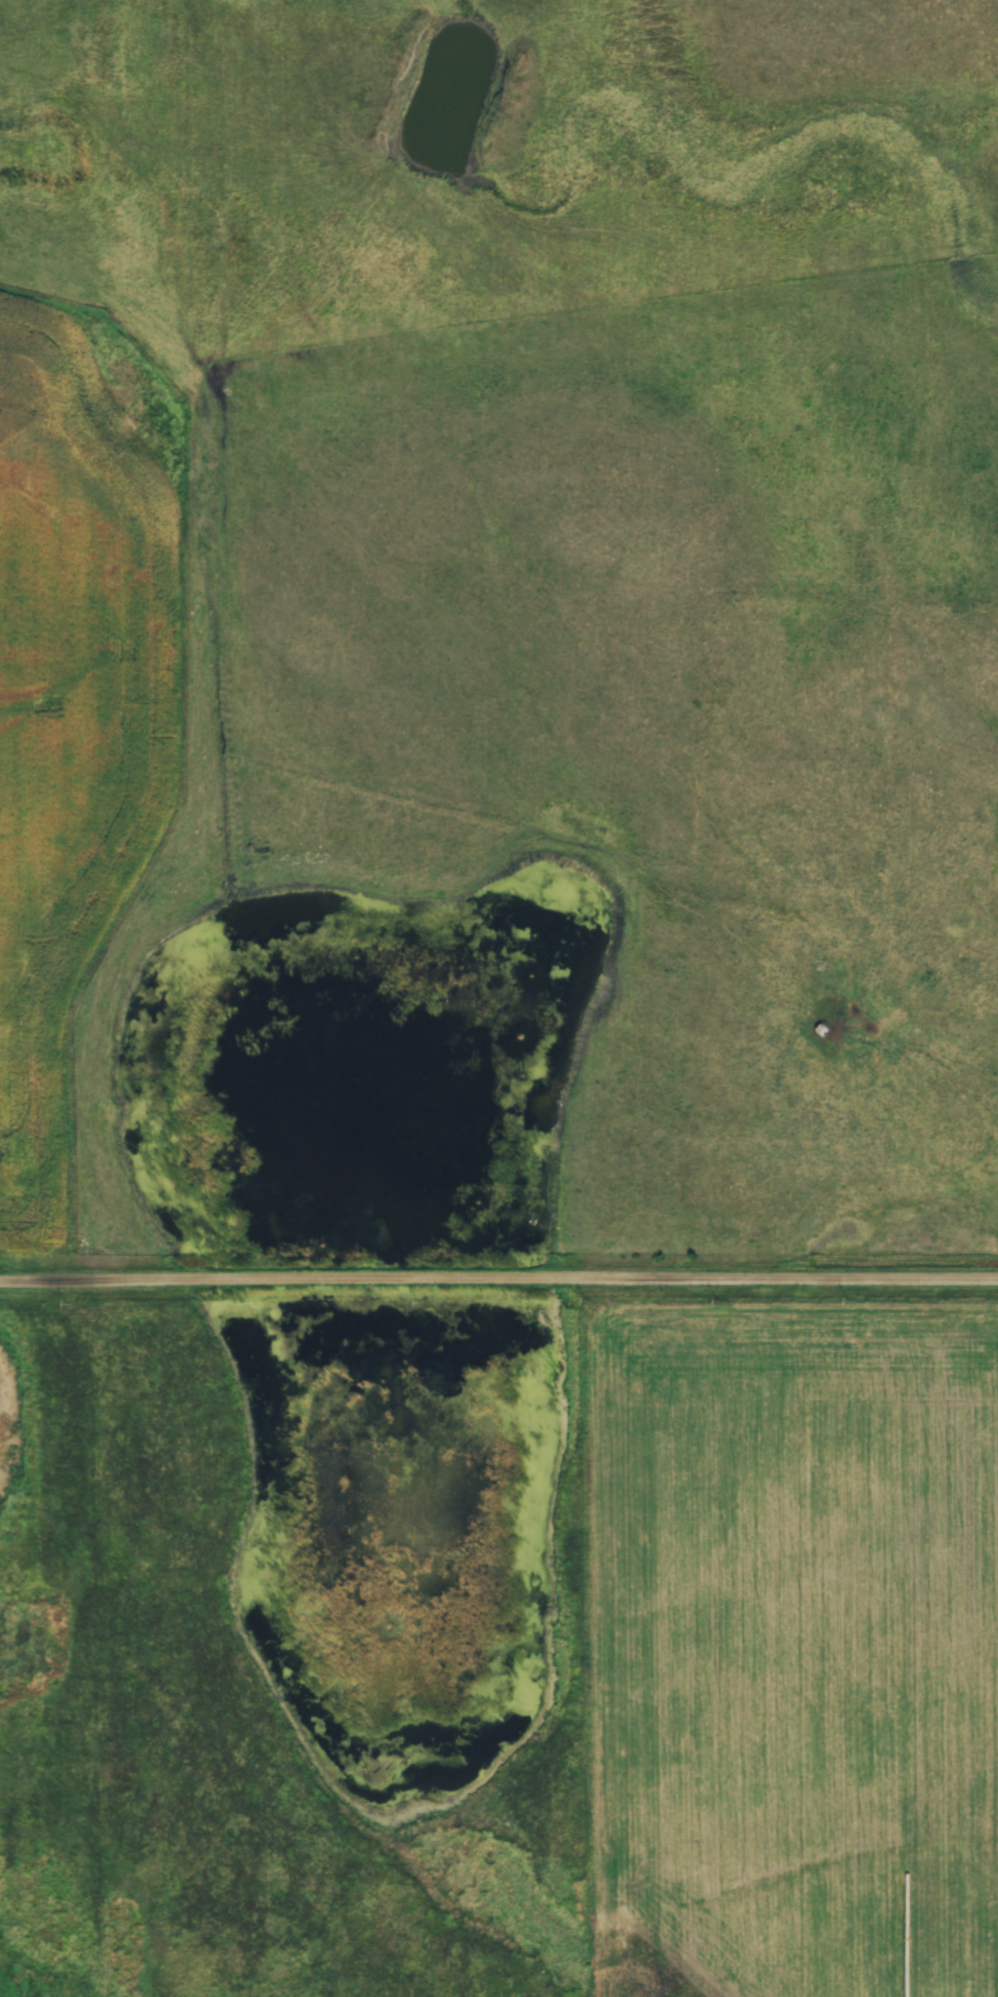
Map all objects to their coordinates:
road: (499, 1282)

